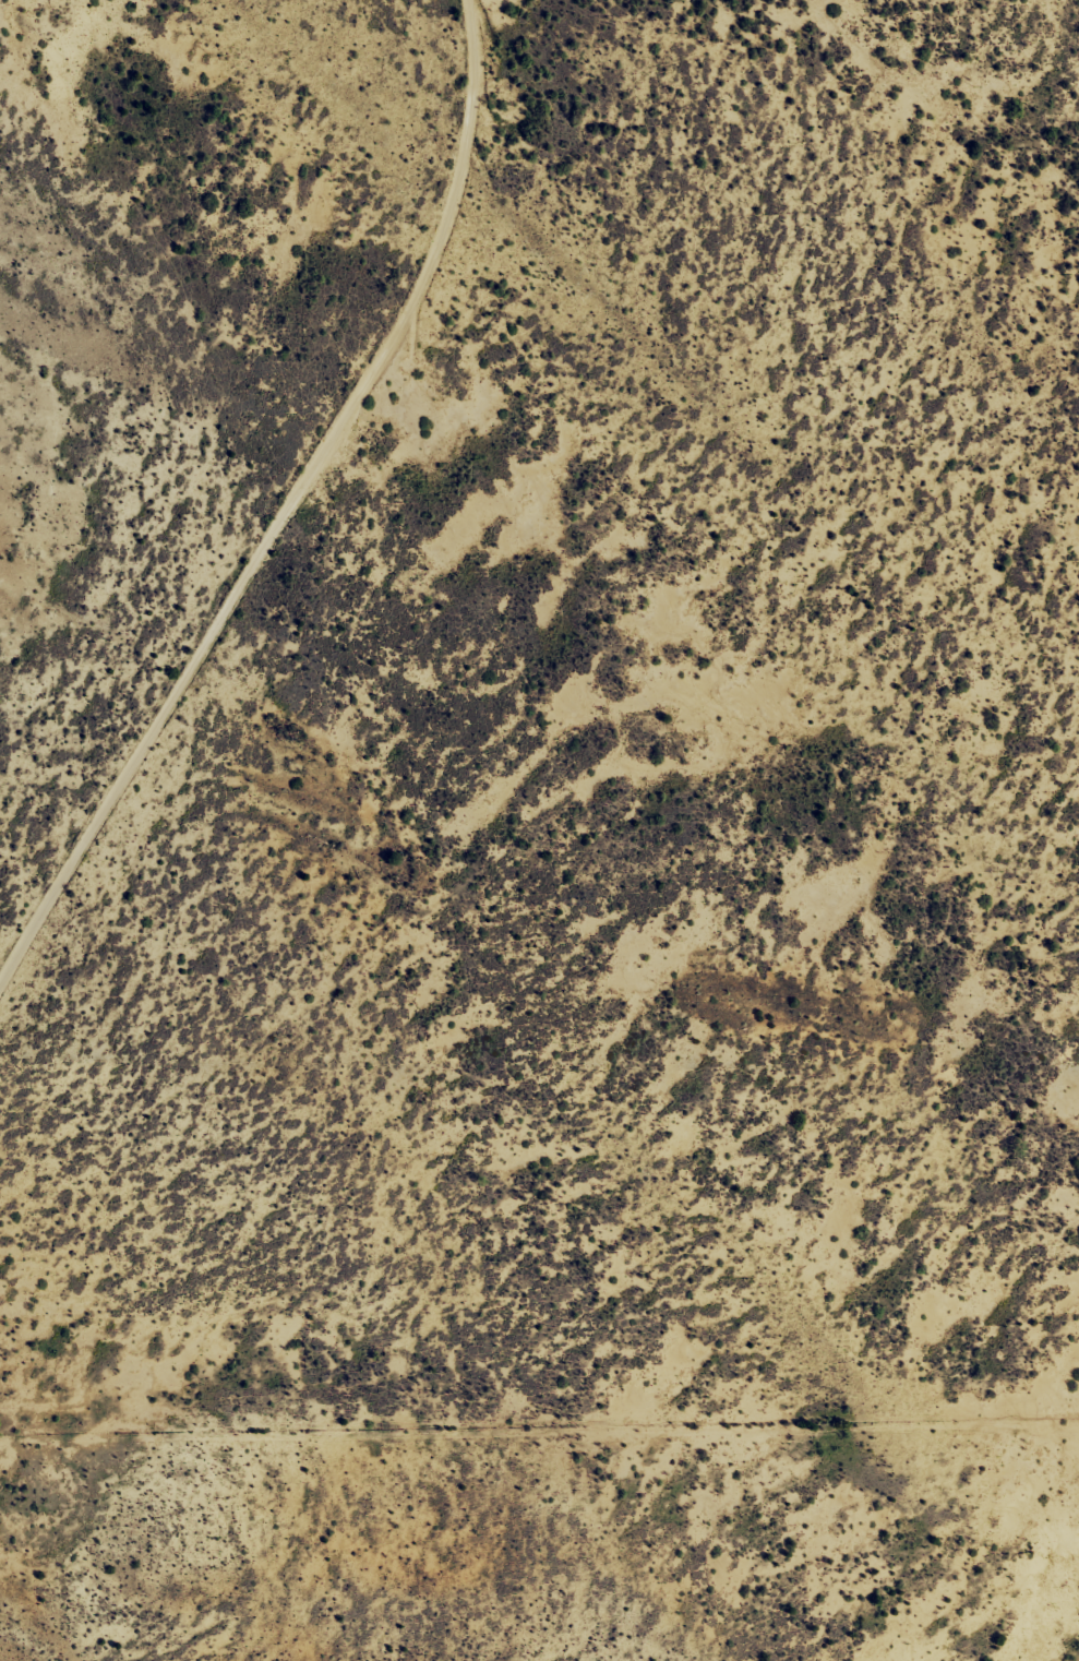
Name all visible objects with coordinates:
road: (305, 507)

